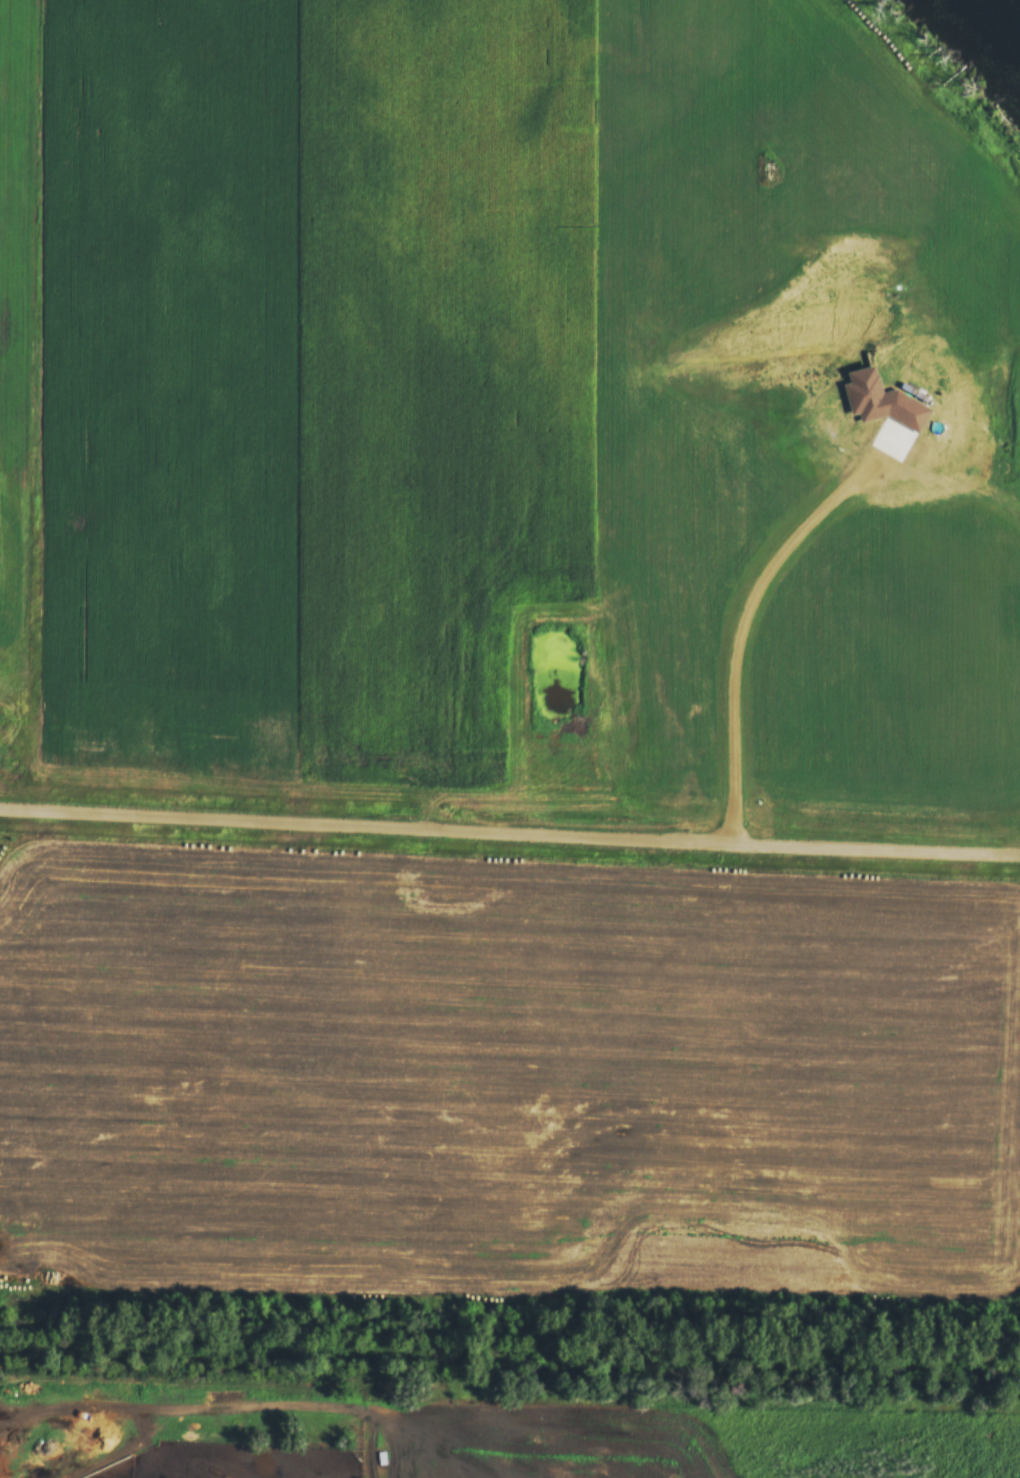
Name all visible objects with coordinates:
road: (509, 832)
crop: (503, 1071)

